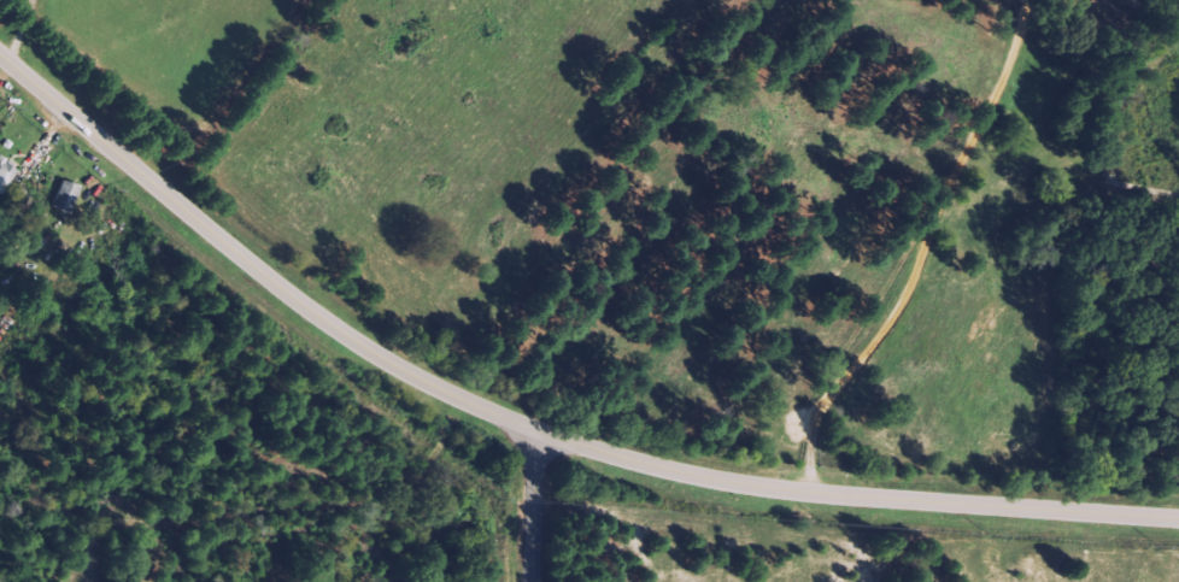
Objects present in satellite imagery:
building: (6, 175)
building: (69, 196)
road: (530, 427)
road: (532, 505)

